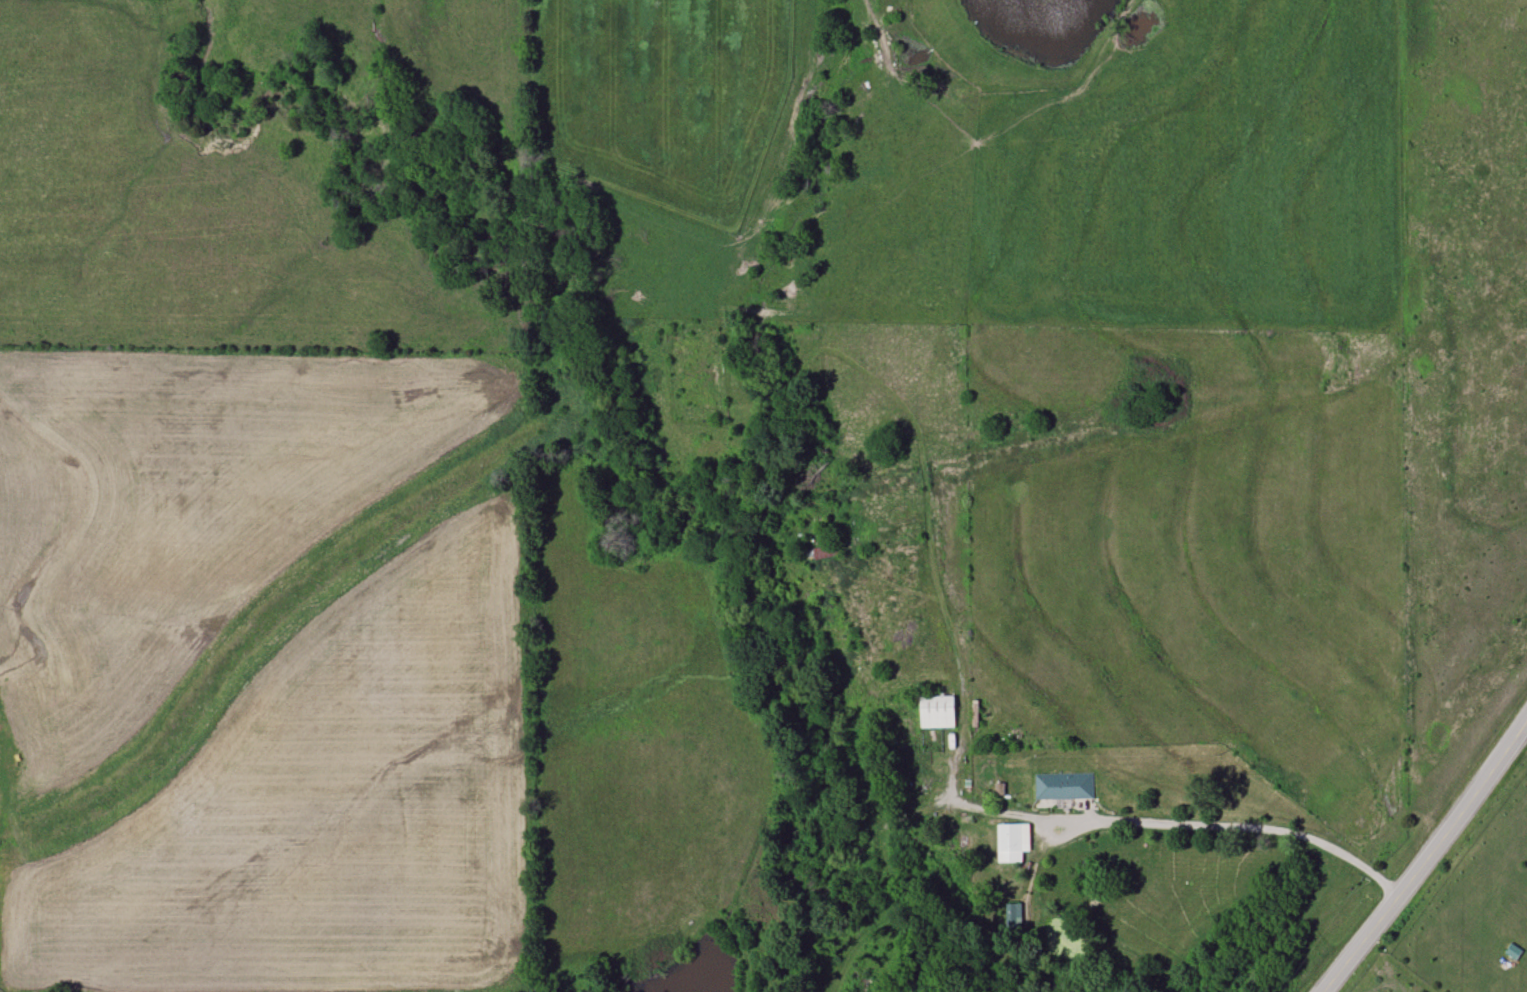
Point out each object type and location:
building: (936, 711)
building: (1063, 786)
road: (1184, 823)
building: (1012, 842)
road: (1425, 859)
building: (1013, 916)

